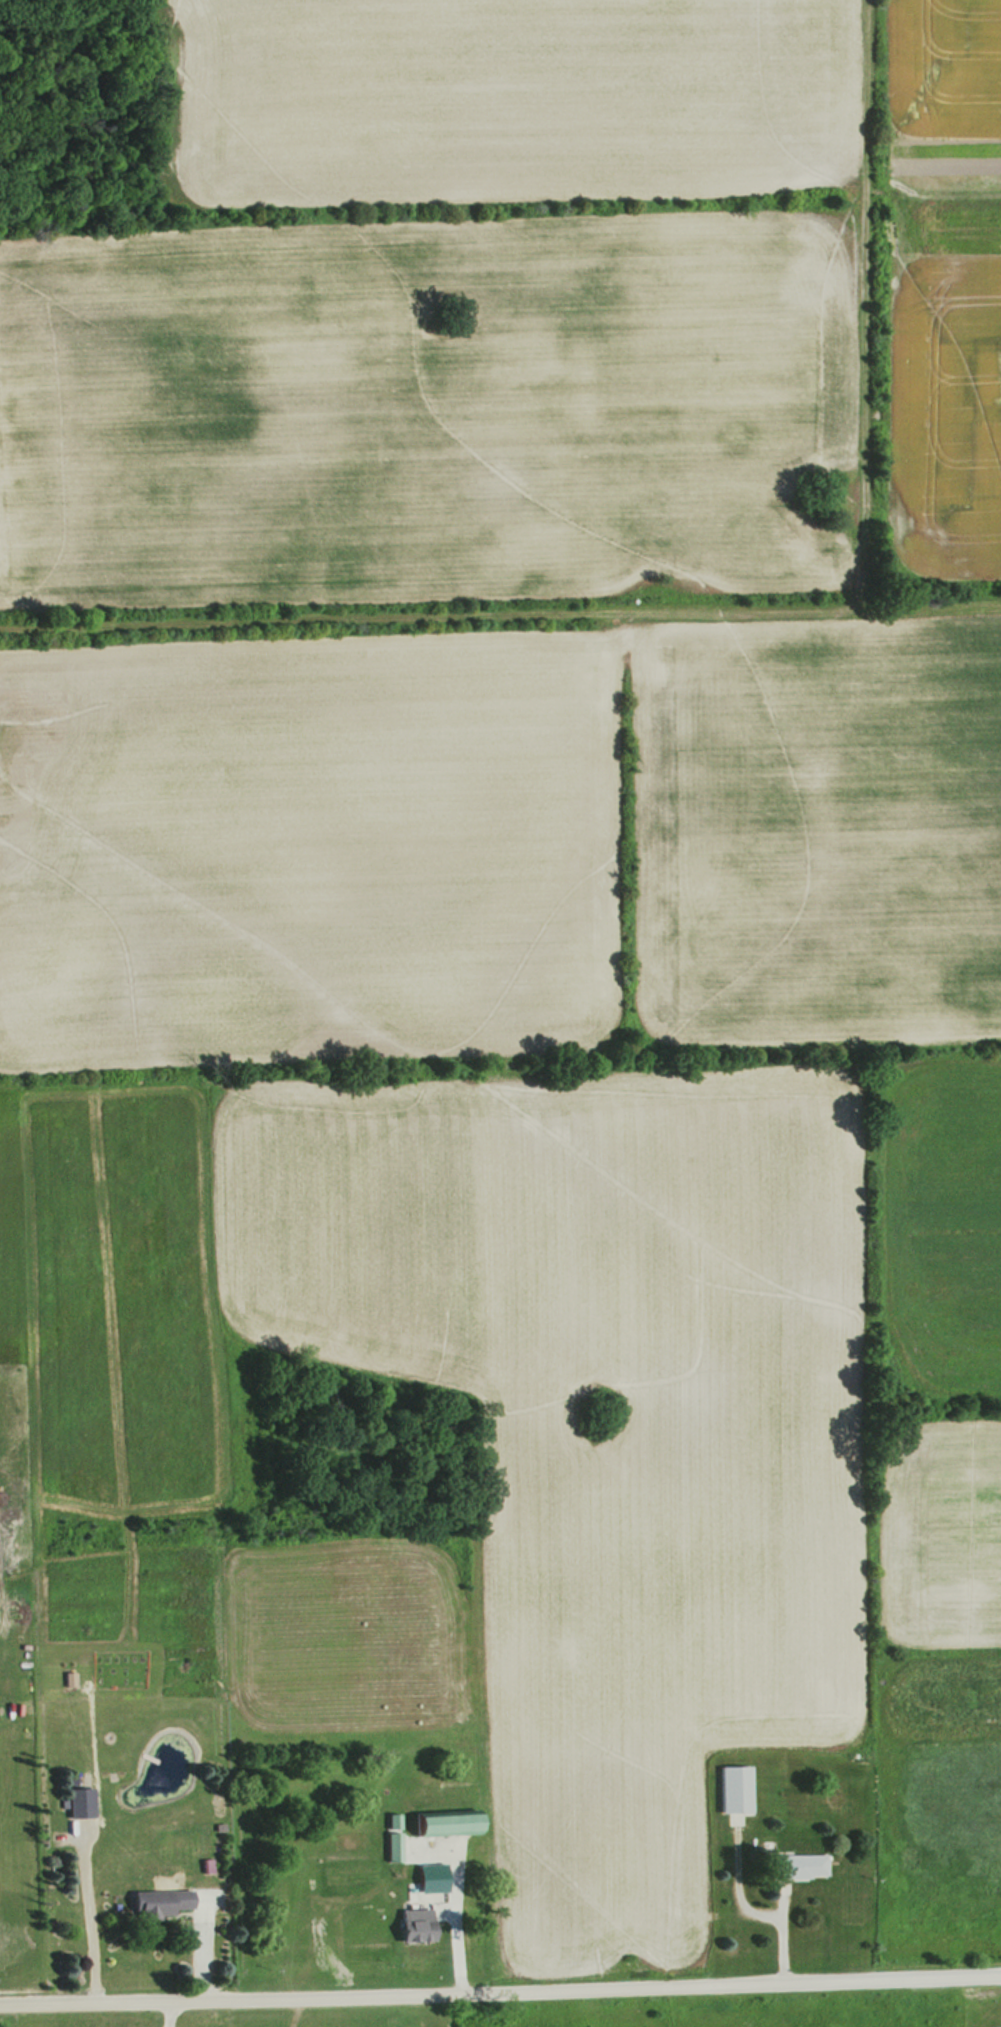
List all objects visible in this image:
building: (731, 1790)
building: (76, 1803)
building: (441, 1824)
building: (391, 1848)
building: (795, 1867)
building: (419, 1885)
building: (154, 1904)
road: (762, 1916)
road: (91, 1917)
road: (457, 1921)
building: (410, 1925)
road: (500, 1988)
road: (173, 2013)

